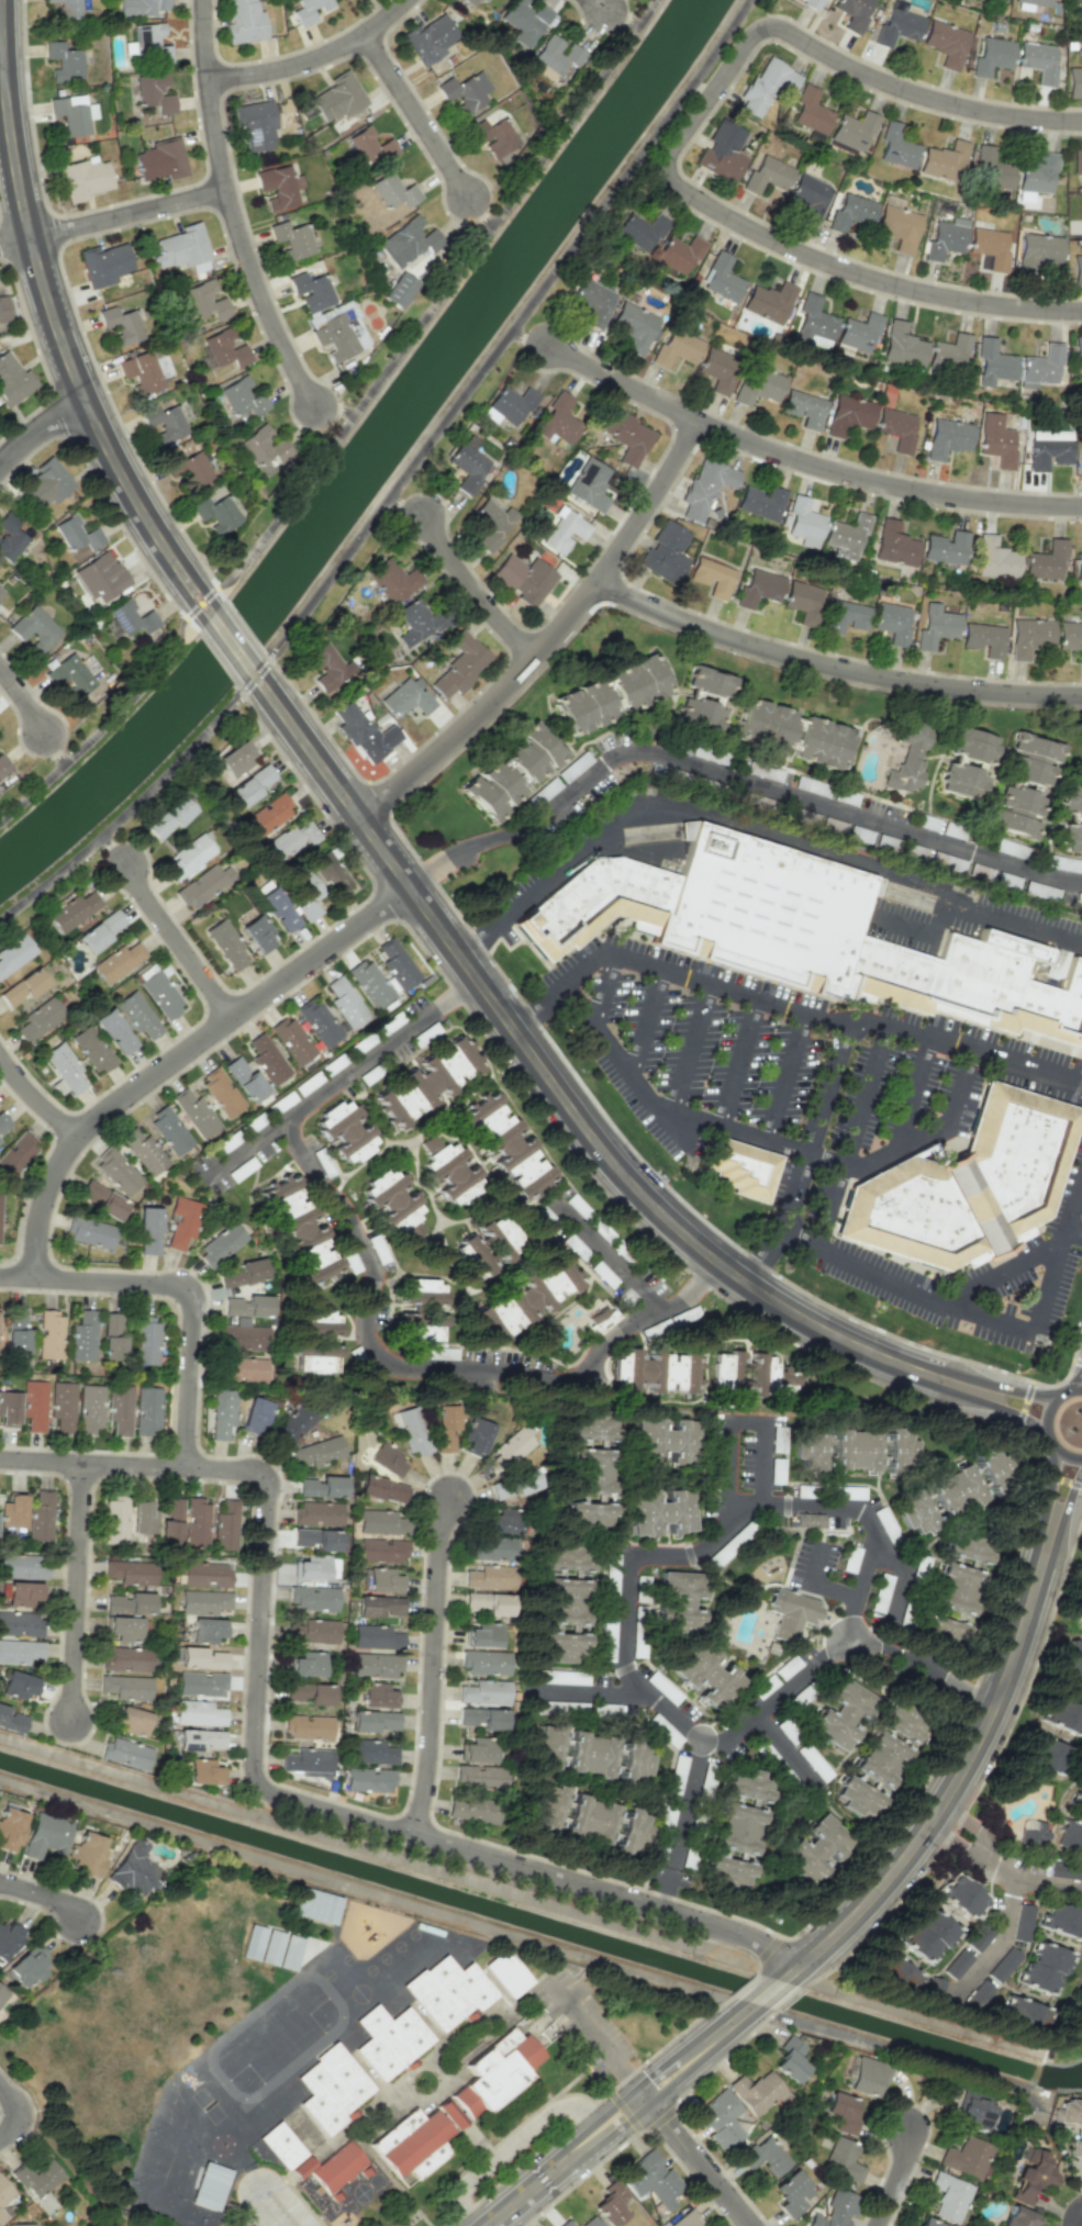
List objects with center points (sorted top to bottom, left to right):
building: (472, 2)
building: (1034, 2)
building: (811, 3)
park: (639, 4)
building: (140, 7)
road: (599, 7)
building: (66, 10)
building: (308, 10)
building: (854, 13)
road: (645, 14)
building: (1081, 16)
road: (624, 18)
building: (524, 21)
building: (244, 22)
building: (897, 27)
building: (430, 38)
building: (946, 43)
building: (150, 44)
building: (992, 55)
road: (310, 57)
building: (554, 57)
building: (1038, 60)
building: (64, 61)
road: (1, 67)
building: (1074, 82)
building: (767, 85)
road: (703, 88)
building: (154, 92)
building: (464, 92)
building: (337, 98)
building: (811, 111)
building: (72, 113)
road: (415, 116)
building: (255, 126)
building: (852, 132)
building: (493, 137)
road: (677, 142)
building: (896, 147)
building: (372, 148)
building: (723, 152)
building: (1077, 158)
building: (160, 160)
building: (945, 161)
building: (992, 169)
building: (1037, 172)
building: (768, 175)
building: (83, 178)
building: (279, 186)
building: (393, 191)
road: (223, 194)
building: (810, 195)
road: (480, 213)
building: (851, 213)
road: (127, 214)
building: (899, 227)
building: (640, 230)
building: (291, 239)
road: (16, 241)
building: (408, 241)
building: (944, 241)
building: (990, 246)
building: (182, 248)
building: (1038, 251)
building: (677, 255)
building: (103, 264)
building: (1077, 269)
building: (721, 278)
building: (399, 290)
building: (311, 291)
building: (205, 301)
building: (594, 301)
building: (769, 302)
building: (3, 307)
road: (58, 324)
building: (814, 324)
building: (121, 325)
building: (634, 325)
building: (858, 332)
building: (339, 334)
road: (531, 338)
building: (677, 347)
building: (902, 347)
building: (224, 348)
building: (949, 351)
building: (1077, 351)
building: (993, 362)
building: (1040, 367)
building: (145, 370)
building: (717, 370)
building: (13, 379)
building: (758, 387)
building: (239, 399)
building: (804, 409)
building: (849, 415)
building: (559, 420)
building: (164, 423)
building: (896, 428)
road: (42, 432)
building: (625, 435)
road: (330, 436)
building: (948, 438)
building: (995, 438)
building: (264, 446)
building: (1048, 449)
road: (804, 463)
building: (469, 465)
building: (188, 469)
road: (401, 482)
building: (45, 483)
building: (589, 484)
building: (705, 488)
road: (405, 502)
road: (647, 502)
building: (761, 502)
building: (216, 513)
building: (492, 523)
building: (804, 523)
building: (564, 530)
building: (77, 534)
building: (10, 537)
building: (847, 537)
building: (894, 545)
building: (946, 548)
building: (666, 552)
building: (994, 558)
building: (1046, 561)
building: (1078, 566)
building: (99, 577)
building: (712, 578)
building: (523, 579)
building: (394, 582)
road: (469, 586)
building: (758, 588)
building: (0, 590)
building: (803, 602)
building: (846, 616)
building: (129, 618)
building: (419, 622)
building: (892, 622)
building: (936, 627)
building: (1029, 637)
building: (1070, 637)
building: (984, 639)
road: (235, 647)
building: (460, 664)
building: (327, 665)
road: (833, 665)
building: (69, 674)
building: (636, 683)
building: (405, 697)
building: (703, 697)
road: (25, 698)
road: (483, 705)
building: (583, 707)
building: (767, 726)
building: (365, 732)
building: (821, 742)
building: (542, 743)
road: (308, 747)
building: (233, 758)
building: (1031, 760)
building: (908, 761)
building: (967, 763)
building: (3, 767)
building: (514, 769)
building: (252, 784)
building: (484, 797)
building: (1070, 799)
building: (1015, 810)
building: (267, 815)
building: (169, 817)
road: (748, 837)
building: (1072, 837)
building: (290, 841)
road: (480, 842)
road: (110, 844)
building: (189, 857)
building: (331, 874)
building: (203, 885)
building: (305, 895)
building: (596, 903)
building: (278, 909)
building: (763, 910)
building: (71, 911)
road: (940, 918)
road: (904, 926)
building: (101, 930)
building: (257, 932)
road: (172, 938)
building: (226, 944)
building: (14, 953)
building: (116, 962)
building: (398, 964)
building: (370, 983)
building: (971, 983)
road: (599, 986)
building: (22, 988)
building: (158, 991)
road: (606, 993)
building: (345, 1003)
road: (787, 1009)
building: (137, 1015)
road: (640, 1018)
building: (38, 1019)
building: (319, 1022)
road: (649, 1023)
building: (114, 1031)
building: (291, 1040)
road: (684, 1045)
building: (91, 1049)
road: (694, 1049)
building: (267, 1060)
road: (733, 1061)
road: (741, 1063)
building: (64, 1067)
road: (780, 1076)
road: (342, 1077)
road: (788, 1078)
building: (245, 1080)
building: (425, 1083)
road: (917, 1089)
building: (221, 1092)
road: (907, 1092)
road: (34, 1097)
road: (658, 1106)
building: (193, 1111)
building: (3, 1125)
building: (169, 1131)
building: (345, 1131)
road: (934, 1137)
road: (852, 1138)
building: (505, 1144)
building: (144, 1152)
road: (806, 1154)
building: (16, 1155)
road: (825, 1161)
road: (617, 1166)
building: (741, 1167)
building: (448, 1171)
building: (115, 1172)
building: (968, 1184)
building: (0, 1198)
building: (101, 1199)
building: (391, 1199)
building: (293, 1215)
building: (181, 1221)
building: (148, 1230)
building: (89, 1232)
road: (1072, 1232)
building: (221, 1243)
road: (606, 1254)
building: (241, 1273)
building: (320, 1275)
road: (1000, 1275)
road: (180, 1286)
building: (527, 1298)
building: (247, 1306)
building: (413, 1310)
road: (981, 1319)
building: (319, 1323)
building: (15, 1329)
building: (49, 1334)
building: (82, 1336)
building: (112, 1336)
building: (243, 1336)
building: (146, 1342)
building: (315, 1358)
road: (436, 1367)
building: (245, 1369)
building: (655, 1372)
building: (747, 1372)
road: (1074, 1380)
road: (1026, 1391)
road: (1073, 1391)
building: (34, 1405)
building: (62, 1405)
building: (90, 1408)
building: (9, 1409)
building: (119, 1409)
road: (1049, 1409)
road: (1017, 1410)
building: (146, 1411)
building: (222, 1413)
building: (255, 1414)
road: (735, 1422)
building: (293, 1425)
building: (445, 1425)
building: (591, 1427)
building: (411, 1429)
building: (477, 1435)
building: (665, 1440)
building: (511, 1448)
building: (854, 1448)
building: (320, 1451)
building: (808, 1451)
road: (1059, 1451)
building: (900, 1452)
building: (388, 1459)
building: (991, 1465)
building: (592, 1470)
road: (1056, 1478)
building: (513, 1485)
building: (322, 1487)
building: (382, 1489)
road: (1069, 1492)
building: (938, 1499)
road: (808, 1506)
building: (13, 1511)
building: (660, 1511)
building: (319, 1513)
building: (589, 1514)
building: (41, 1515)
building: (143, 1518)
building: (114, 1521)
building: (197, 1521)
building: (502, 1521)
building: (171, 1522)
building: (382, 1522)
building: (225, 1526)
building: (317, 1539)
building: (967, 1545)
building: (493, 1548)
building: (381, 1550)
building: (568, 1556)
building: (23, 1566)
building: (316, 1568)
building: (131, 1571)
building: (205, 1574)
building: (490, 1577)
building: (382, 1581)
road: (818, 1584)
road: (859, 1587)
building: (956, 1588)
building: (22, 1593)
road: (76, 1593)
building: (314, 1599)
building: (679, 1599)
building: (203, 1601)
building: (566, 1601)
building: (130, 1603)
building: (488, 1603)
building: (380, 1606)
building: (791, 1613)
building: (19, 1623)
building: (123, 1627)
building: (203, 1630)
building: (312, 1632)
building: (484, 1635)
building: (376, 1637)
building: (565, 1646)
building: (20, 1652)
building: (202, 1658)
building: (125, 1659)
building: (486, 1663)
building: (1071, 1663)
building: (306, 1664)
building: (377, 1665)
road: (431, 1667)
building: (706, 1675)
building: (562, 1676)
building: (201, 1684)
road: (794, 1684)
building: (16, 1685)
building: (126, 1687)
road: (585, 1690)
building: (484, 1692)
building: (309, 1693)
building: (379, 1696)
building: (198, 1713)
building: (841, 1714)
building: (1062, 1716)
building: (483, 1718)
building: (132, 1720)
building: (11, 1721)
building: (373, 1721)
building: (308, 1726)
building: (200, 1740)
building: (889, 1745)
building: (548, 1747)
building: (478, 1750)
building: (372, 1752)
building: (125, 1753)
building: (589, 1754)
road: (789, 1754)
building: (1047, 1755)
building: (633, 1760)
building: (306, 1761)
road: (963, 1763)
building: (203, 1771)
building: (478, 1776)
building: (368, 1779)
road: (257, 1783)
road: (690, 1787)
building: (857, 1799)
building: (1079, 1799)
building: (548, 1806)
building: (472, 1810)
building: (743, 1810)
building: (589, 1817)
building: (10, 1828)
building: (631, 1832)
building: (45, 1835)
building: (1033, 1835)
building: (1070, 1837)
building: (814, 1848)
building: (87, 1854)
road: (386, 1855)
road: (1001, 1864)
building: (133, 1868)
building: (727, 1872)
road: (43, 1897)
building: (960, 1897)
building: (316, 1905)
building: (1062, 1921)
building: (1023, 1922)
road: (1003, 1932)
building: (927, 1936)
building: (978, 1937)
building: (9, 1939)
building: (271, 1947)
building: (290, 1951)
building: (956, 1964)
building: (1003, 1965)
building: (27, 1966)
building: (1044, 1968)
building: (506, 1972)
building: (895, 1976)
road: (770, 1989)
building: (934, 1989)
building: (447, 1991)
building: (2, 1995)
building: (975, 1996)
building: (1078, 2012)
building: (1022, 2014)
road: (593, 2038)
building: (390, 2040)
road: (696, 2052)
building: (790, 2059)
building: (499, 2069)
building: (867, 2077)
building: (333, 2088)
building: (757, 2091)
building: (974, 2111)
building: (843, 2112)
road: (26, 2114)
building: (720, 2119)
building: (1070, 2122)
road: (514, 2139)
building: (281, 2146)
building: (410, 2147)
building: (765, 2156)
building: (967, 2157)
building: (841, 2160)
road: (568, 2161)
road: (695, 2162)
building: (336, 2167)
road: (896, 2175)
building: (36, 2178)
road: (261, 2178)
building: (1034, 2178)
building: (651, 2179)
building: (4, 2191)
building: (792, 2193)
building: (949, 2196)
building: (611, 2203)
building: (835, 2210)
building: (1, 2216)
building: (1017, 2217)
building: (685, 2219)
road: (1077, 2219)
building: (590, 2222)
building: (565, 2223)
building: (929, 2223)

